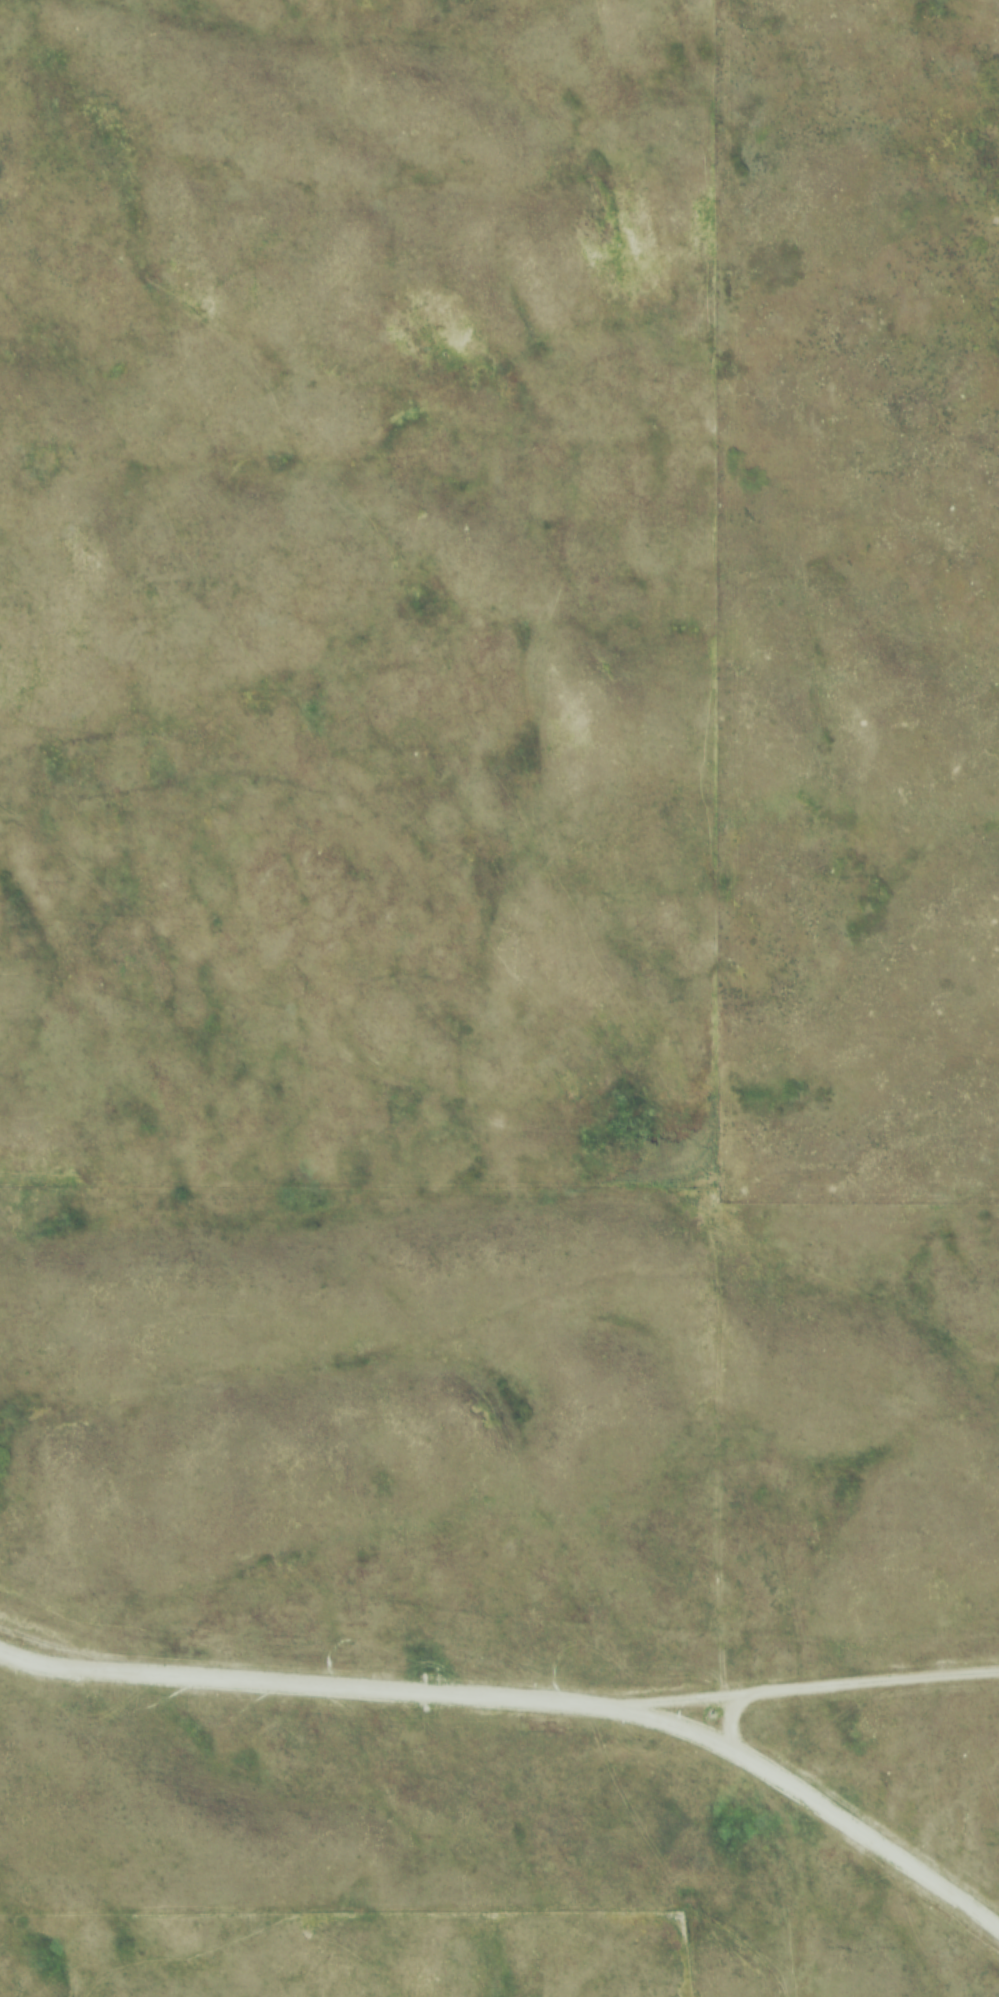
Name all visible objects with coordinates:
road: (496, 1702)
road: (820, 1811)

